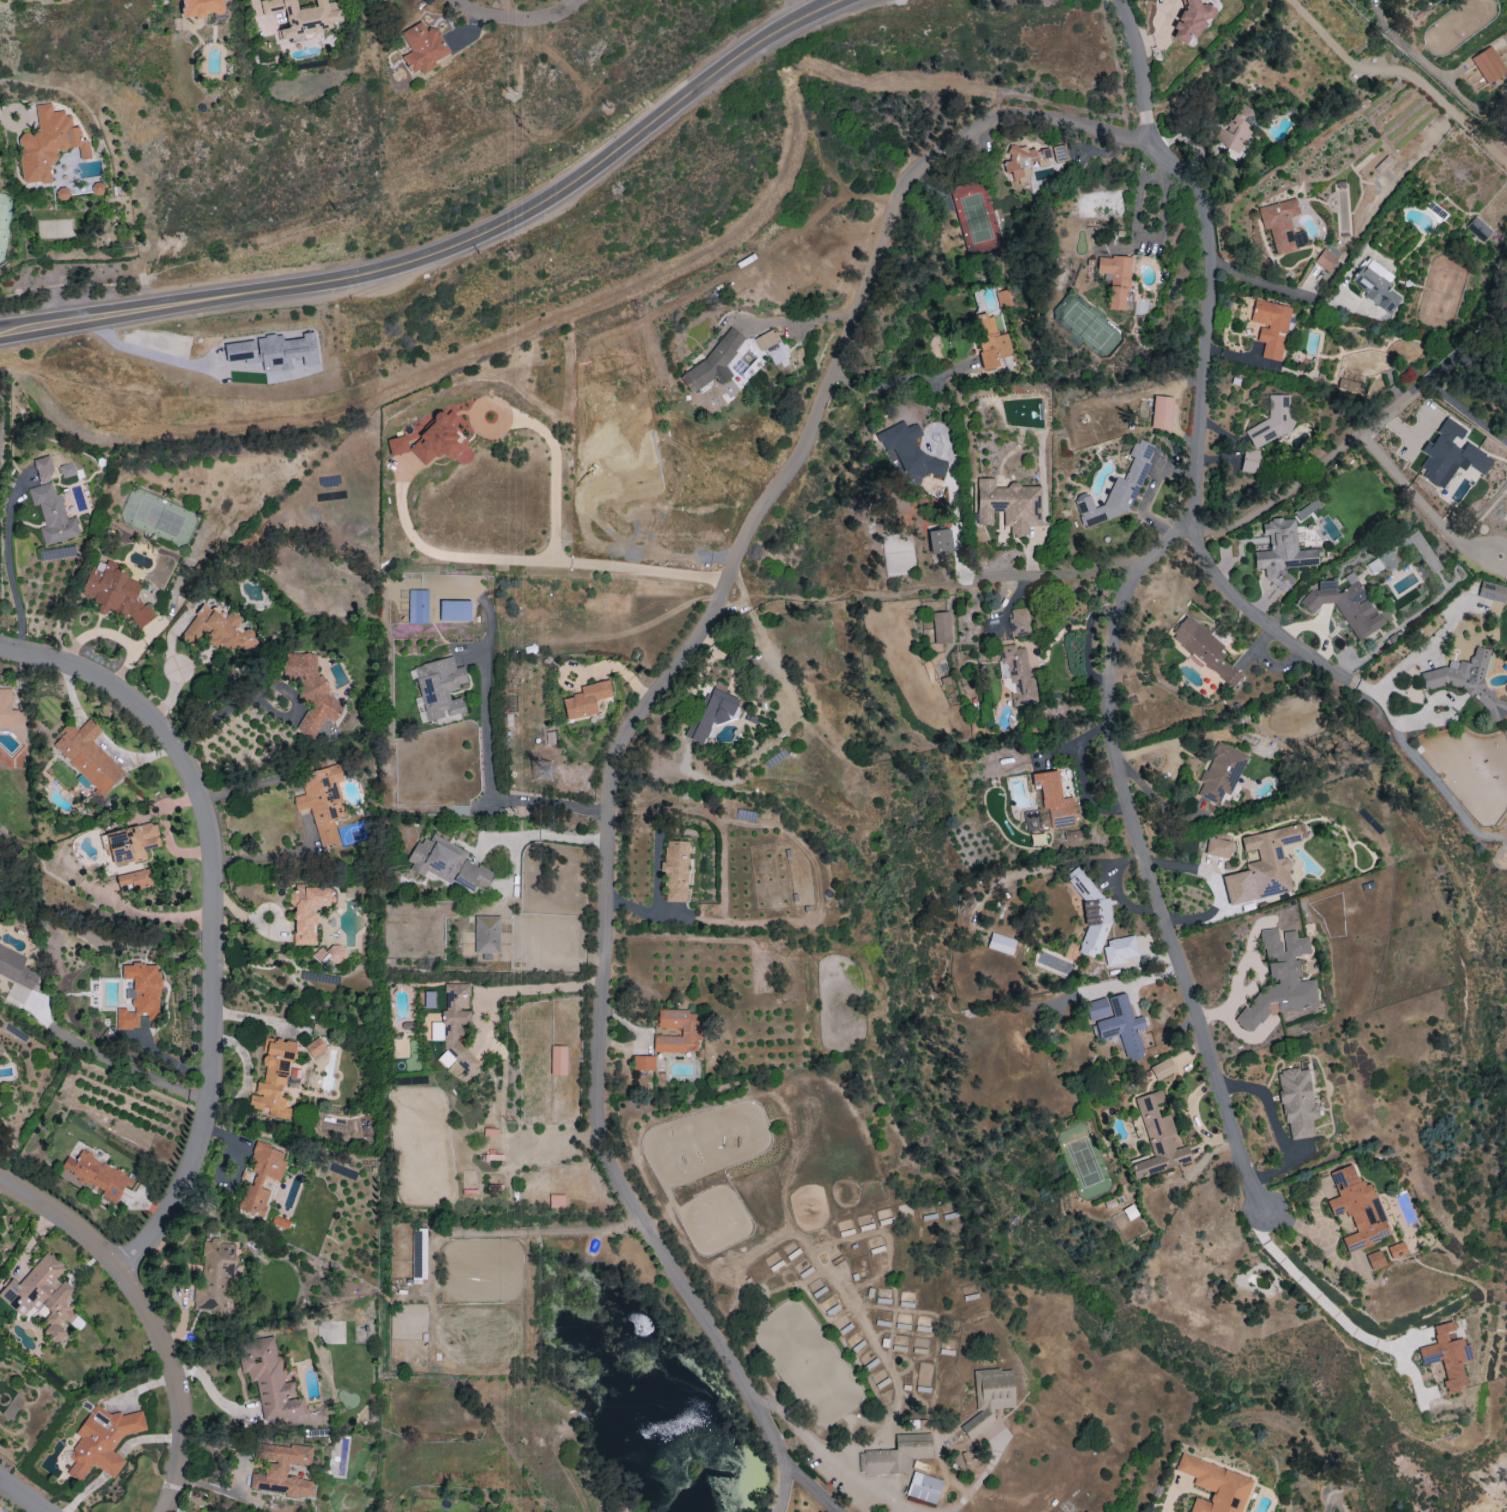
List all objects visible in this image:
building: (200, 7)
road: (797, 8)
road: (259, 16)
road: (519, 17)
building: (298, 18)
building: (1190, 20)
road: (1155, 28)
building: (422, 48)
building: (1488, 64)
road: (1399, 71)
road: (1140, 73)
power tower: (518, 94)
road: (2, 111)
building: (1235, 129)
road: (409, 132)
building: (48, 143)
building: (1024, 161)
building: (1282, 225)
building: (1478, 228)
road: (1143, 243)
road: (450, 248)
building: (1325, 259)
power tower: (511, 260)
building: (1115, 278)
road: (1271, 285)
building: (1375, 285)
road: (804, 322)
building: (1271, 327)
building: (991, 341)
building: (772, 347)
building: (277, 352)
building: (713, 362)
road: (900, 380)
building: (1349, 386)
building: (1161, 412)
building: (1272, 421)
road: (938, 429)
road: (1348, 437)
building: (431, 440)
building: (909, 453)
building: (1450, 454)
building: (1249, 461)
road: (552, 466)
building: (44, 469)
building: (1117, 489)
building: (1009, 505)
building: (52, 514)
road: (961, 536)
building: (938, 541)
building: (1281, 553)
road: (536, 562)
road: (7, 567)
road: (1067, 571)
building: (114, 591)
building: (1491, 591)
building: (418, 606)
building: (1346, 606)
building: (455, 610)
road: (716, 613)
road: (1257, 616)
building: (1018, 621)
building: (941, 627)
road: (1316, 627)
building: (217, 629)
building: (1204, 649)
road: (1112, 669)
building: (1016, 673)
building: (1468, 681)
building: (440, 687)
building: (310, 691)
building: (586, 699)
building: (8, 709)
building: (712, 714)
road: (219, 716)
road: (98, 738)
building: (87, 755)
road: (486, 757)
road: (1426, 771)
building: (1221, 772)
power tower: (541, 773)
road: (1081, 775)
road: (247, 786)
building: (1054, 799)
building: (322, 800)
power tower: (509, 809)
building: (1072, 835)
building: (132, 842)
building: (1218, 847)
building: (448, 864)
building: (1263, 865)
building: (675, 871)
building: (135, 879)
road: (1216, 884)
building: (307, 910)
road: (214, 912)
building: (1091, 913)
building: (486, 934)
building: (1001, 943)
building: (1118, 950)
building: (331, 955)
building: (16, 968)
building: (1280, 978)
road: (536, 989)
building: (140, 994)
building: (1097, 1009)
building: (456, 1027)
building: (1122, 1027)
building: (689, 1031)
building: (315, 1047)
building: (557, 1060)
building: (643, 1062)
road: (127, 1068)
building: (1162, 1068)
building: (273, 1080)
building: (1297, 1102)
road: (1275, 1125)
power tower: (510, 1126)
building: (1158, 1138)
building: (98, 1174)
building: (261, 1178)
building: (556, 1201)
building: (1357, 1208)
road: (65, 1220)
road: (1291, 1223)
road: (537, 1231)
road: (1330, 1241)
building: (1396, 1250)
building: (1375, 1259)
building: (214, 1275)
road: (1312, 1289)
building: (898, 1347)
building: (1447, 1355)
building: (269, 1380)
road: (739, 1380)
road: (181, 1386)
building: (993, 1388)
road: (214, 1394)
building: (978, 1421)
building: (102, 1440)
building: (895, 1455)
road: (831, 1465)
building: (281, 1469)
road: (977, 1482)
building: (1215, 1485)
road: (780, 1487)
road: (810, 1487)
building: (923, 1487)
road: (22, 1494)
road: (1170, 1500)

